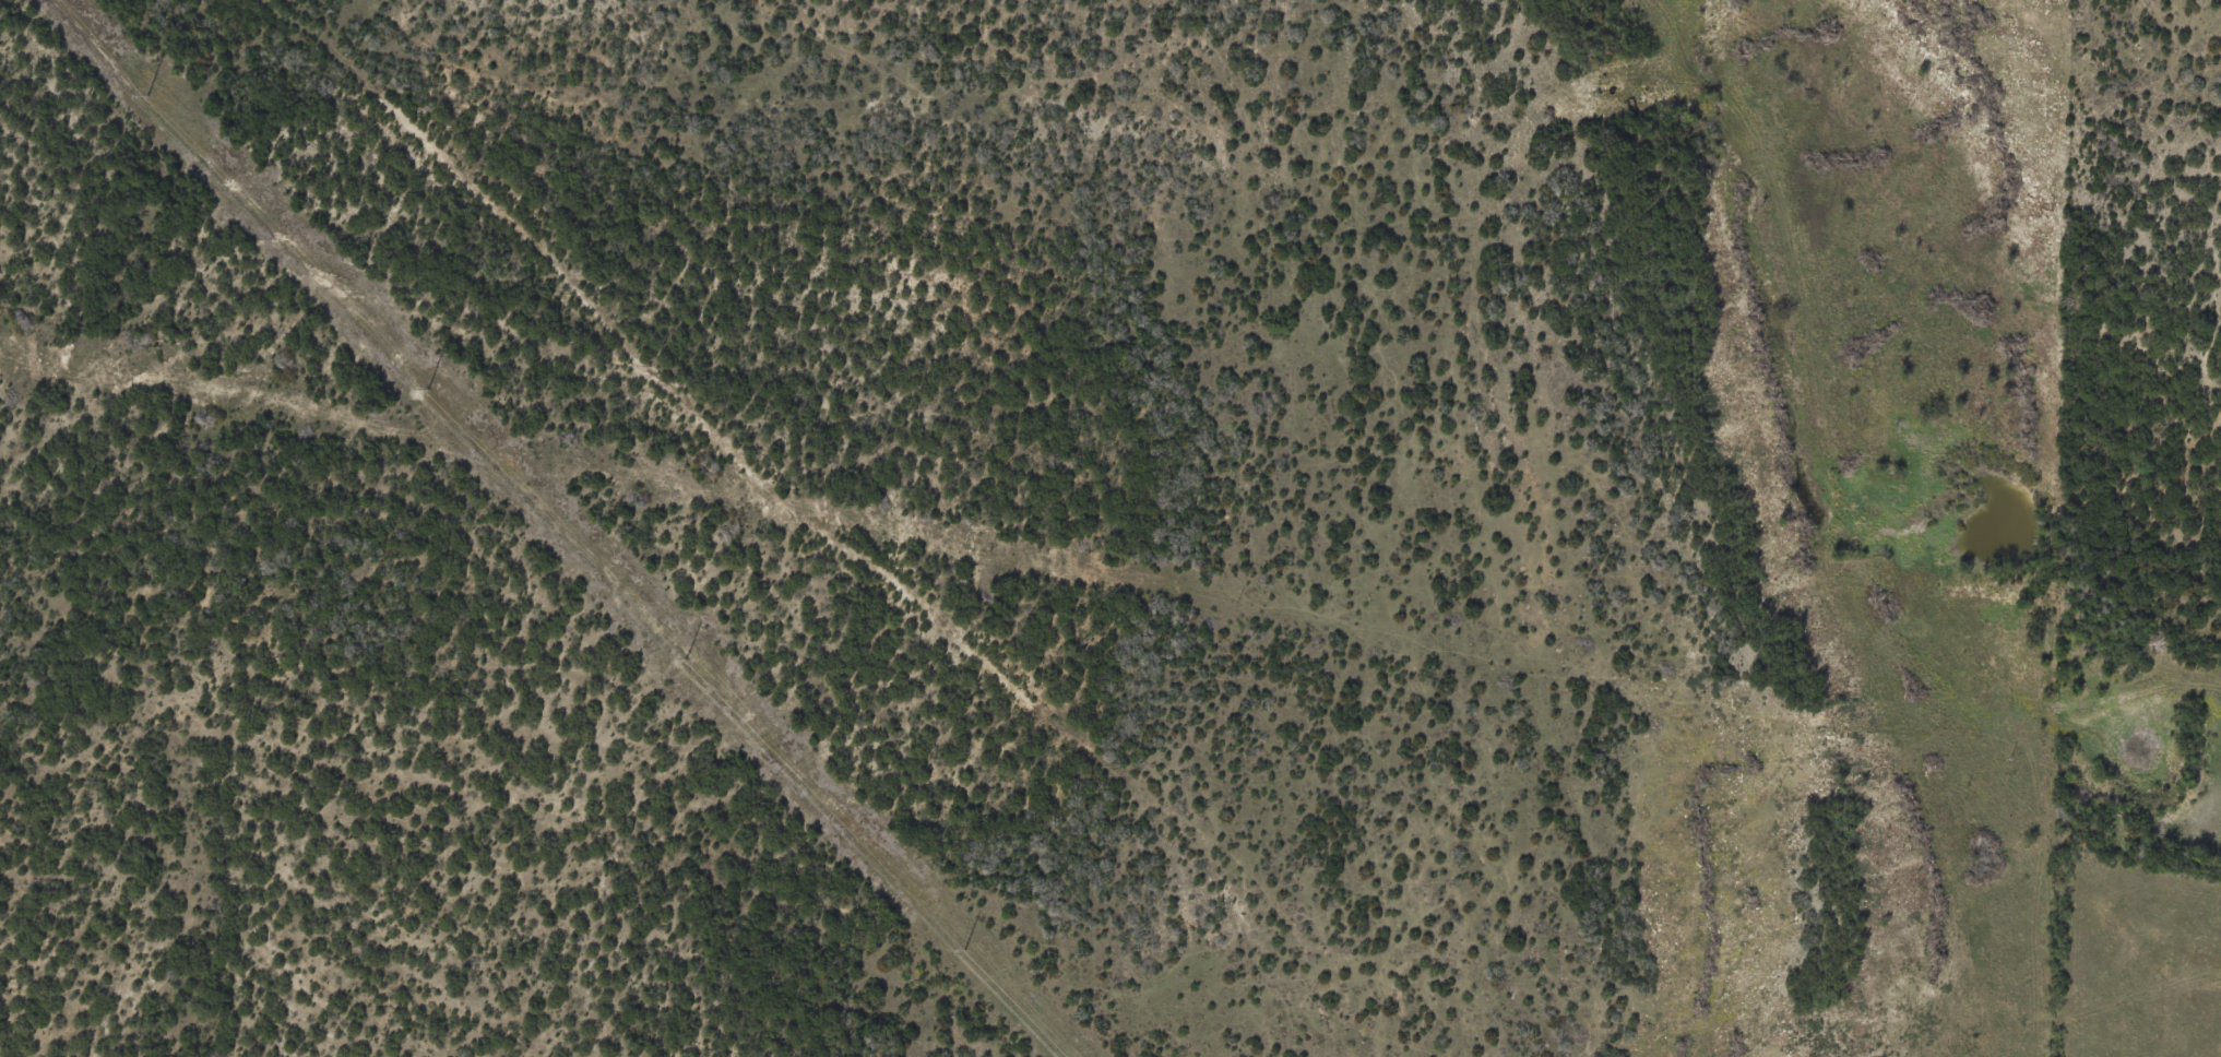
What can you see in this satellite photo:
power tower: (145, 94)
power tower: (428, 388)
road: (1837, 516)
power tower: (685, 657)
power tower: (965, 949)

